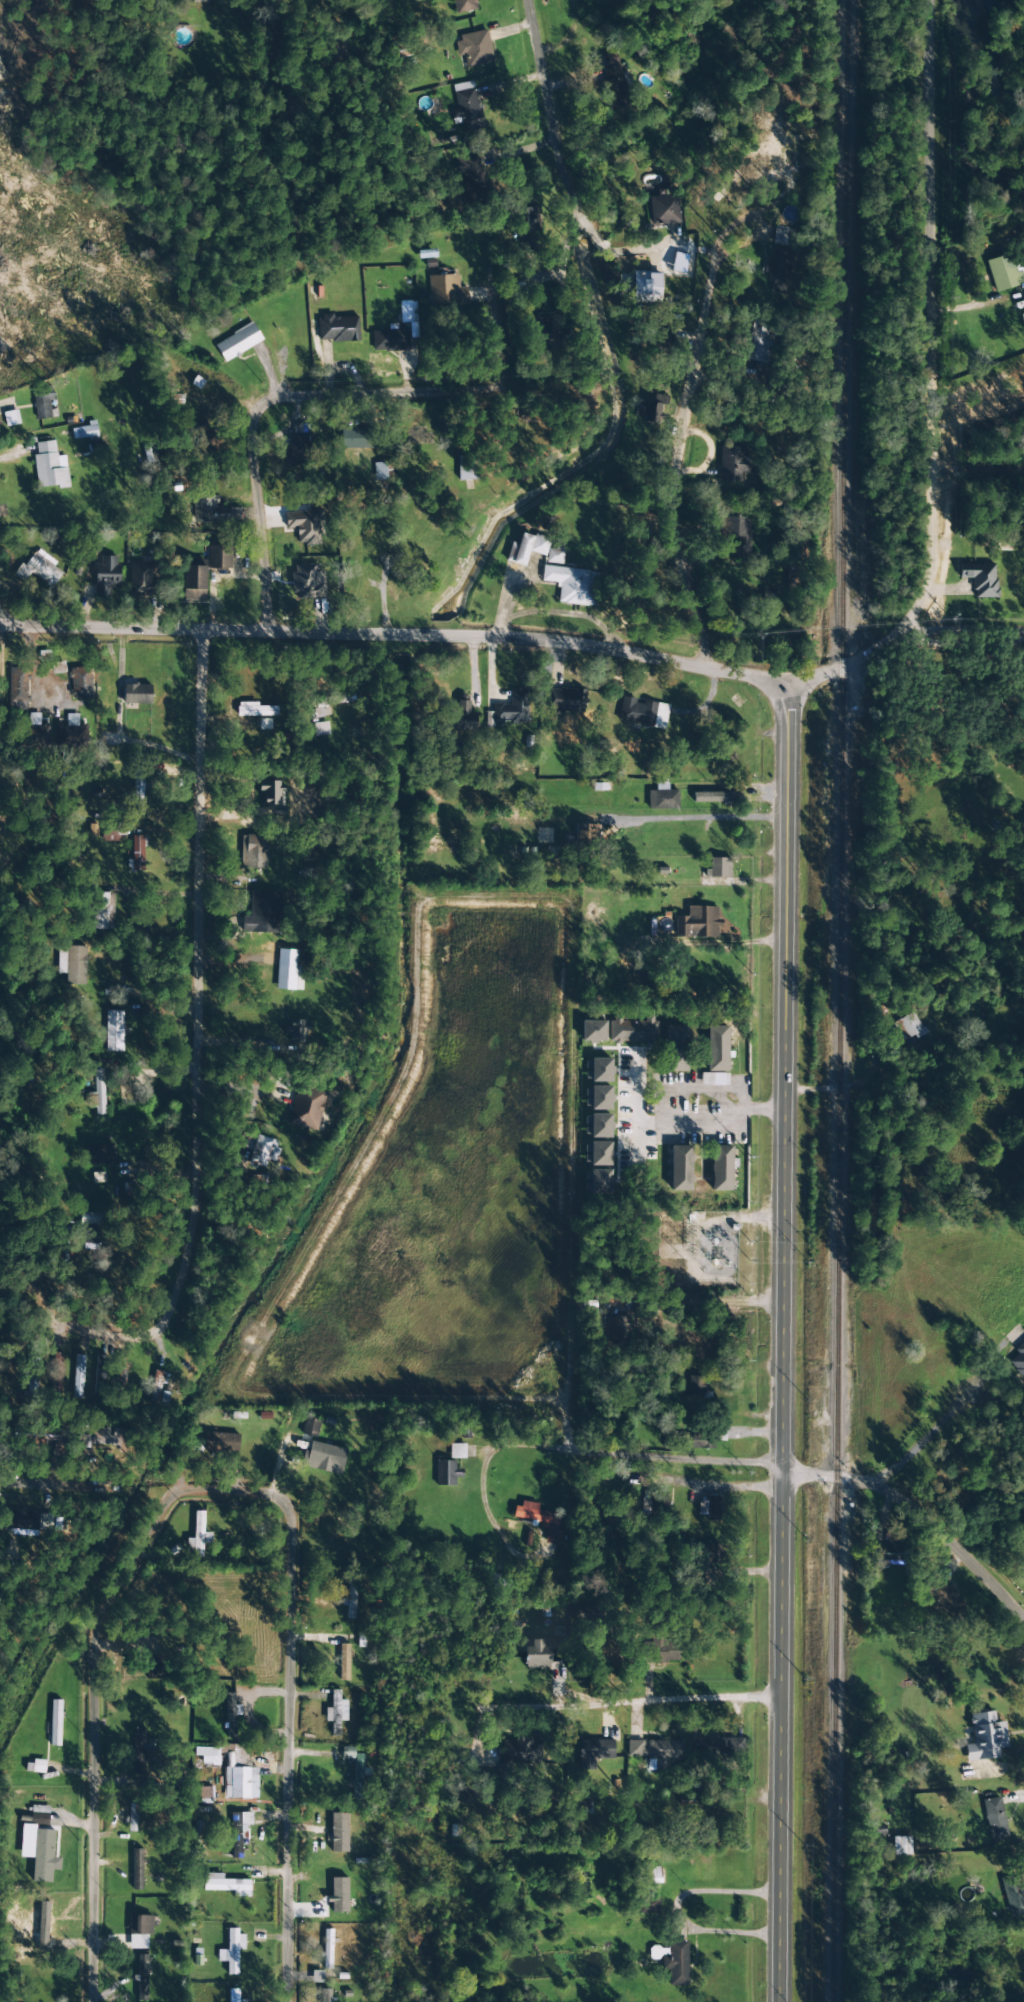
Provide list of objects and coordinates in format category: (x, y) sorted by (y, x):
building: (199, 1)
building: (465, 5)
building: (474, 49)
building: (612, 78)
building: (467, 107)
building: (469, 176)
building: (663, 208)
road: (125, 219)
building: (527, 220)
building: (781, 236)
building: (678, 263)
building: (775, 266)
building: (1003, 273)
building: (645, 287)
building: (446, 290)
road: (931, 320)
road: (673, 321)
building: (337, 329)
building: (540, 332)
building: (389, 340)
building: (759, 341)
building: (238, 342)
road: (458, 382)
road: (190, 394)
building: (43, 405)
building: (653, 408)
building: (11, 418)
building: (85, 431)
building: (353, 438)
building: (206, 439)
building: (297, 447)
building: (734, 464)
road: (977, 466)
building: (49, 467)
building: (466, 468)
building: (379, 471)
building: (213, 511)
building: (304, 526)
building: (737, 534)
building: (532, 550)
building: (219, 557)
building: (40, 569)
building: (106, 576)
building: (980, 579)
building: (141, 580)
building: (307, 582)
building: (194, 583)
building: (572, 585)
road: (396, 623)
road: (962, 631)
road: (845, 663)
building: (81, 683)
building: (17, 688)
building: (136, 693)
building: (334, 700)
building: (566, 700)
building: (510, 709)
building: (463, 711)
building: (642, 713)
building: (320, 729)
building: (41, 731)
building: (71, 736)
building: (136, 795)
building: (714, 797)
building: (662, 798)
building: (585, 835)
building: (253, 851)
building: (718, 868)
building: (102, 911)
building: (262, 913)
building: (698, 922)
building: (72, 964)
building: (288, 971)
railway: (836, 1000)
building: (908, 1026)
building: (633, 1030)
building: (113, 1031)
building: (296, 1031)
building: (592, 1031)
building: (676, 1048)
building: (717, 1049)
building: (597, 1070)
road: (170, 1077)
building: (713, 1079)
building: (97, 1093)
building: (597, 1098)
building: (306, 1108)
road: (716, 1125)
building: (597, 1126)
building: (262, 1152)
building: (100, 1154)
building: (600, 1154)
building: (680, 1168)
building: (721, 1168)
building: (598, 1182)
power substation: (695, 1249)
road: (669, 1326)
building: (619, 1331)
road: (779, 1342)
building: (1018, 1360)
building: (106, 1375)
building: (78, 1376)
building: (160, 1381)
road: (951, 1408)
building: (310, 1426)
building: (38, 1433)
building: (108, 1436)
building: (701, 1440)
building: (221, 1443)
building: (457, 1451)
road: (593, 1453)
building: (326, 1455)
building: (446, 1473)
road: (918, 1499)
building: (708, 1508)
building: (540, 1520)
building: (28, 1522)
building: (198, 1536)
building: (892, 1554)
building: (497, 1566)
building: (352, 1595)
road: (287, 1609)
building: (592, 1619)
building: (139, 1644)
road: (645, 1648)
building: (659, 1651)
building: (544, 1653)
building: (344, 1662)
building: (336, 1712)
building: (231, 1715)
building: (55, 1723)
road: (88, 1736)
building: (985, 1737)
building: (634, 1748)
building: (725, 1748)
building: (138, 1750)
building: (520, 1752)
building: (594, 1752)
building: (663, 1752)
building: (208, 1755)
building: (35, 1766)
building: (354, 1771)
building: (240, 1783)
building: (204, 1795)
road: (1016, 1797)
building: (39, 1815)
building: (132, 1818)
building: (994, 1819)
building: (238, 1832)
building: (339, 1833)
building: (901, 1846)
building: (44, 1856)
building: (137, 1869)
building: (226, 1885)
building: (339, 1895)
building: (1014, 1900)
building: (140, 1925)
building: (327, 1949)
building: (231, 1951)
building: (675, 1963)
building: (142, 1977)
building: (317, 1977)
building: (326, 1995)
building: (234, 1996)

